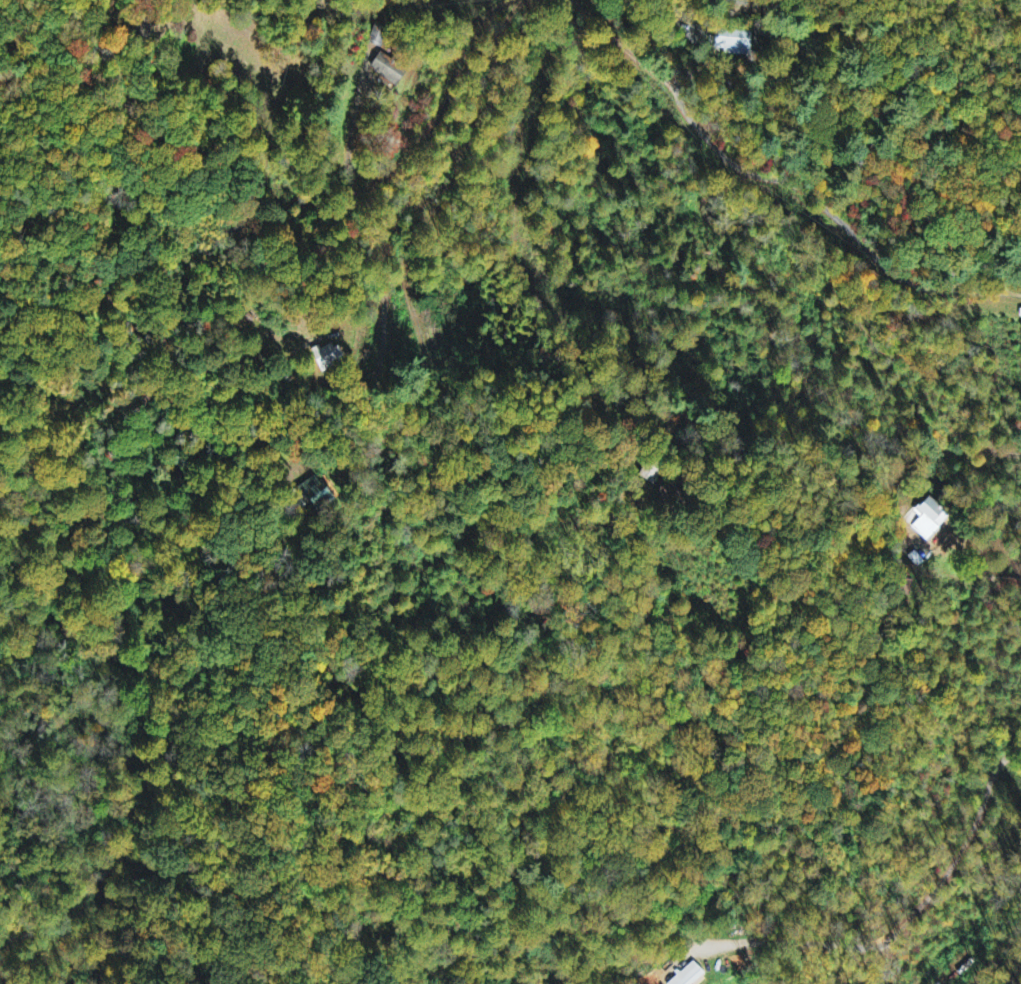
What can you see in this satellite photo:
road: (628, 45)
road: (721, 152)
road: (371, 181)
building: (328, 358)

